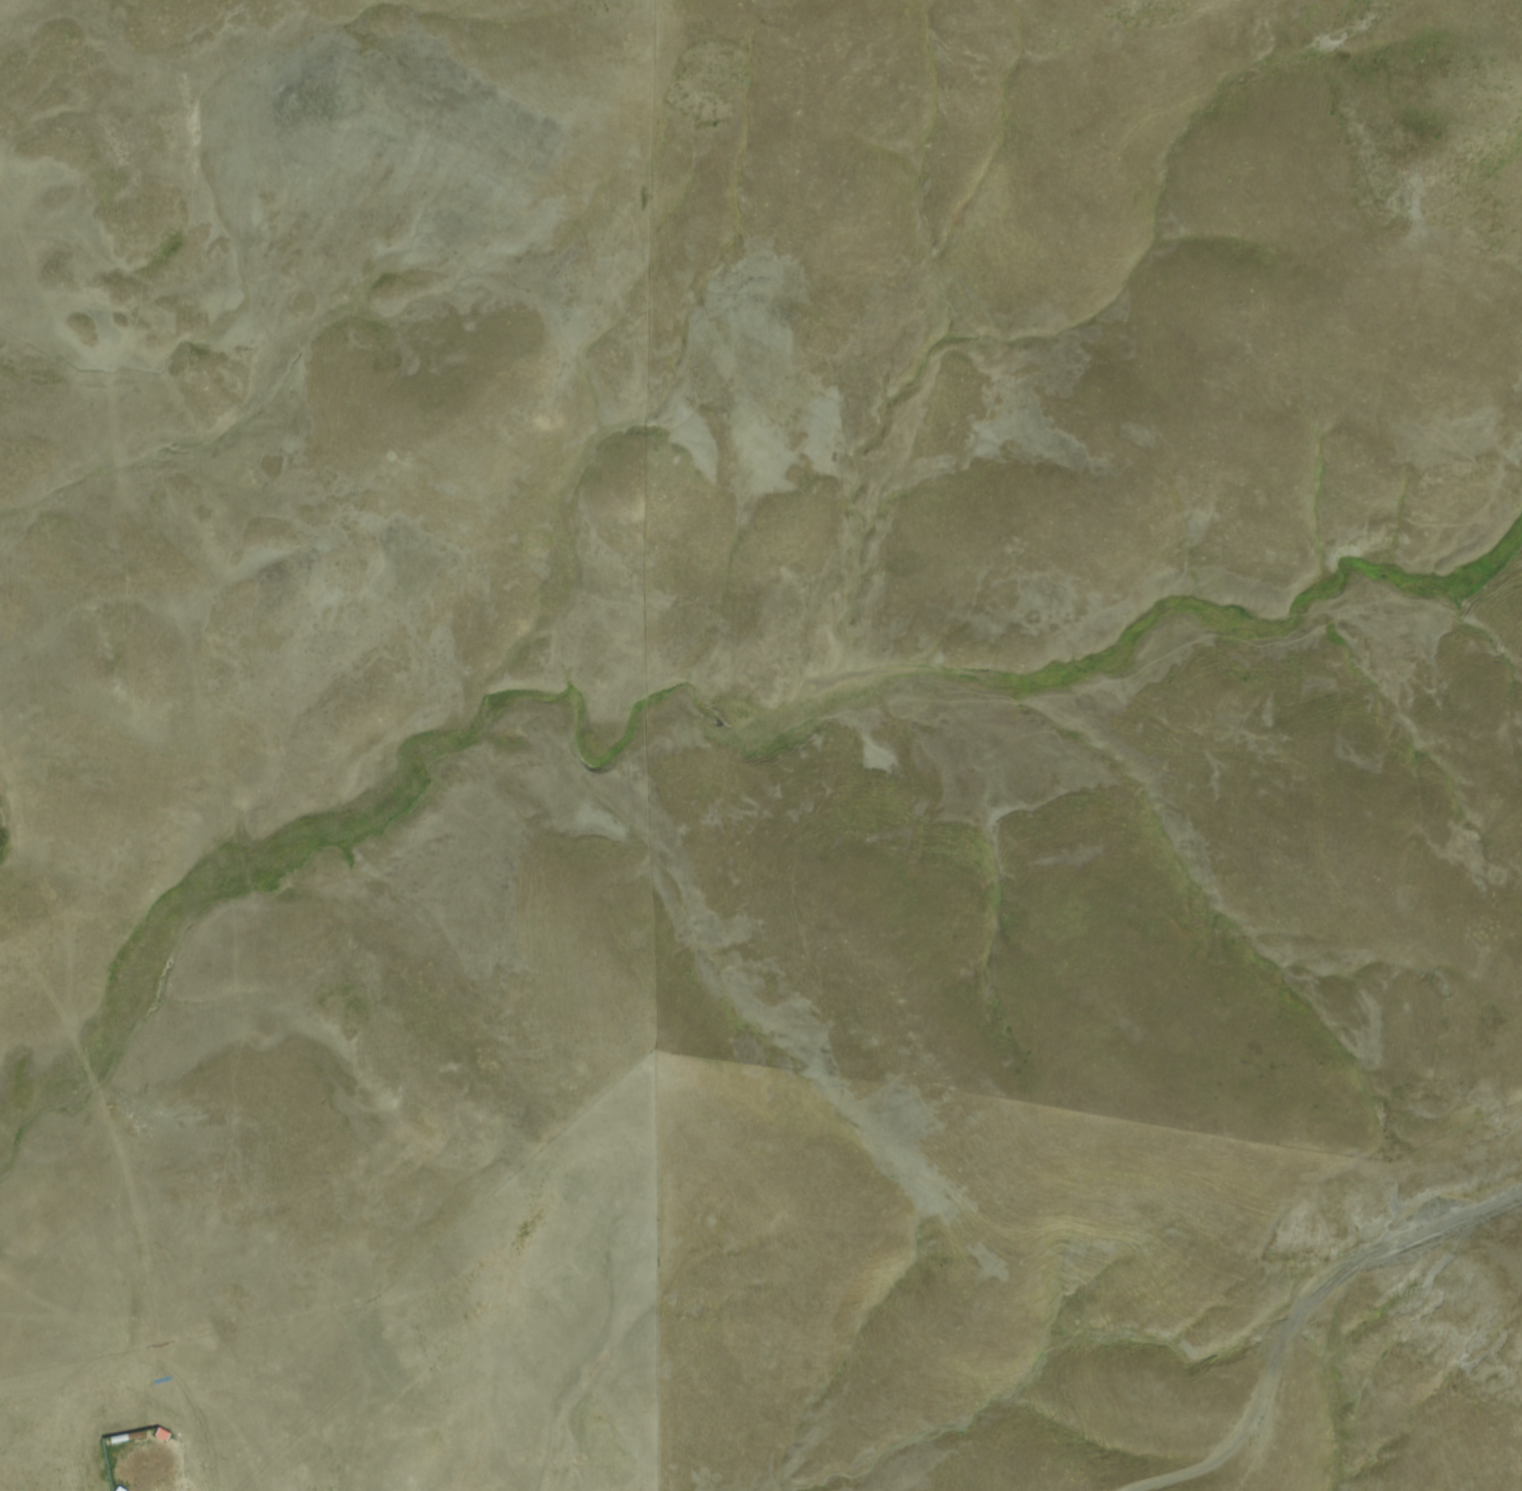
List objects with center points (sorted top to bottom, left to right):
road: (1310, 1289)

